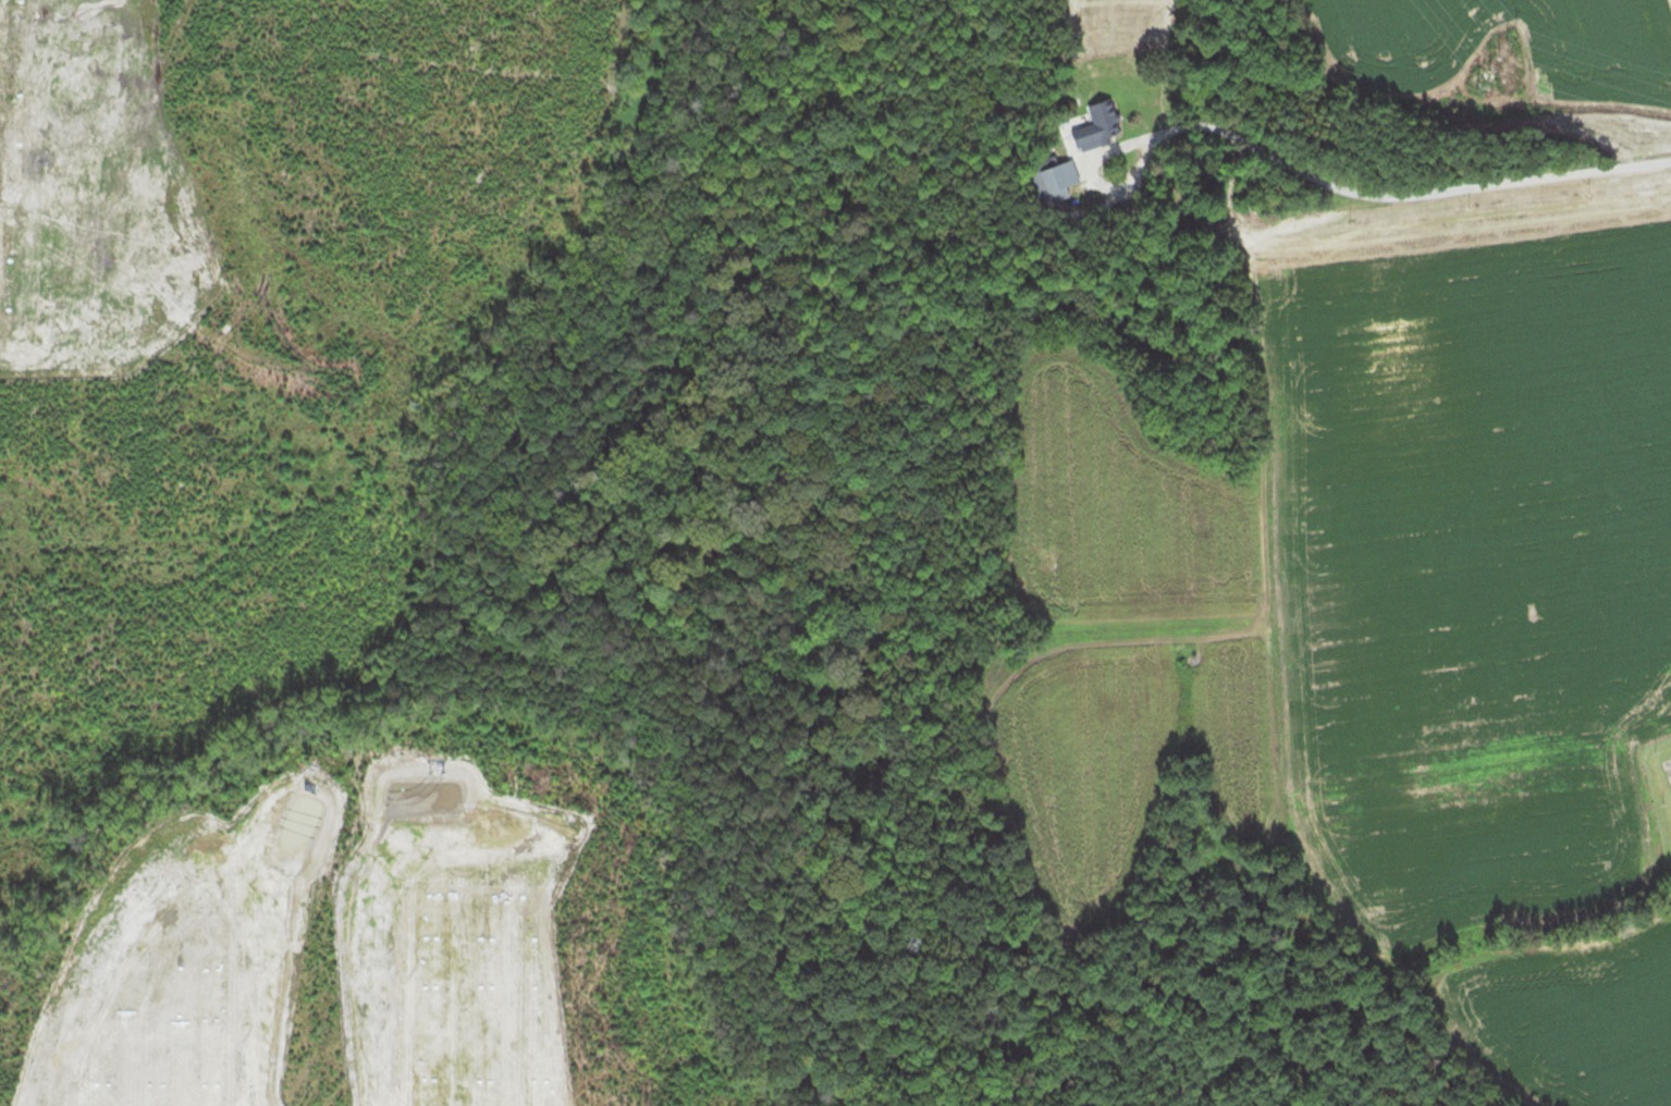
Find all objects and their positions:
power tower: (1514, 42)
building: (1103, 118)
solar farm: (38, 168)
building: (1059, 181)
road: (1088, 181)
road: (1402, 196)
solar farm: (329, 939)

